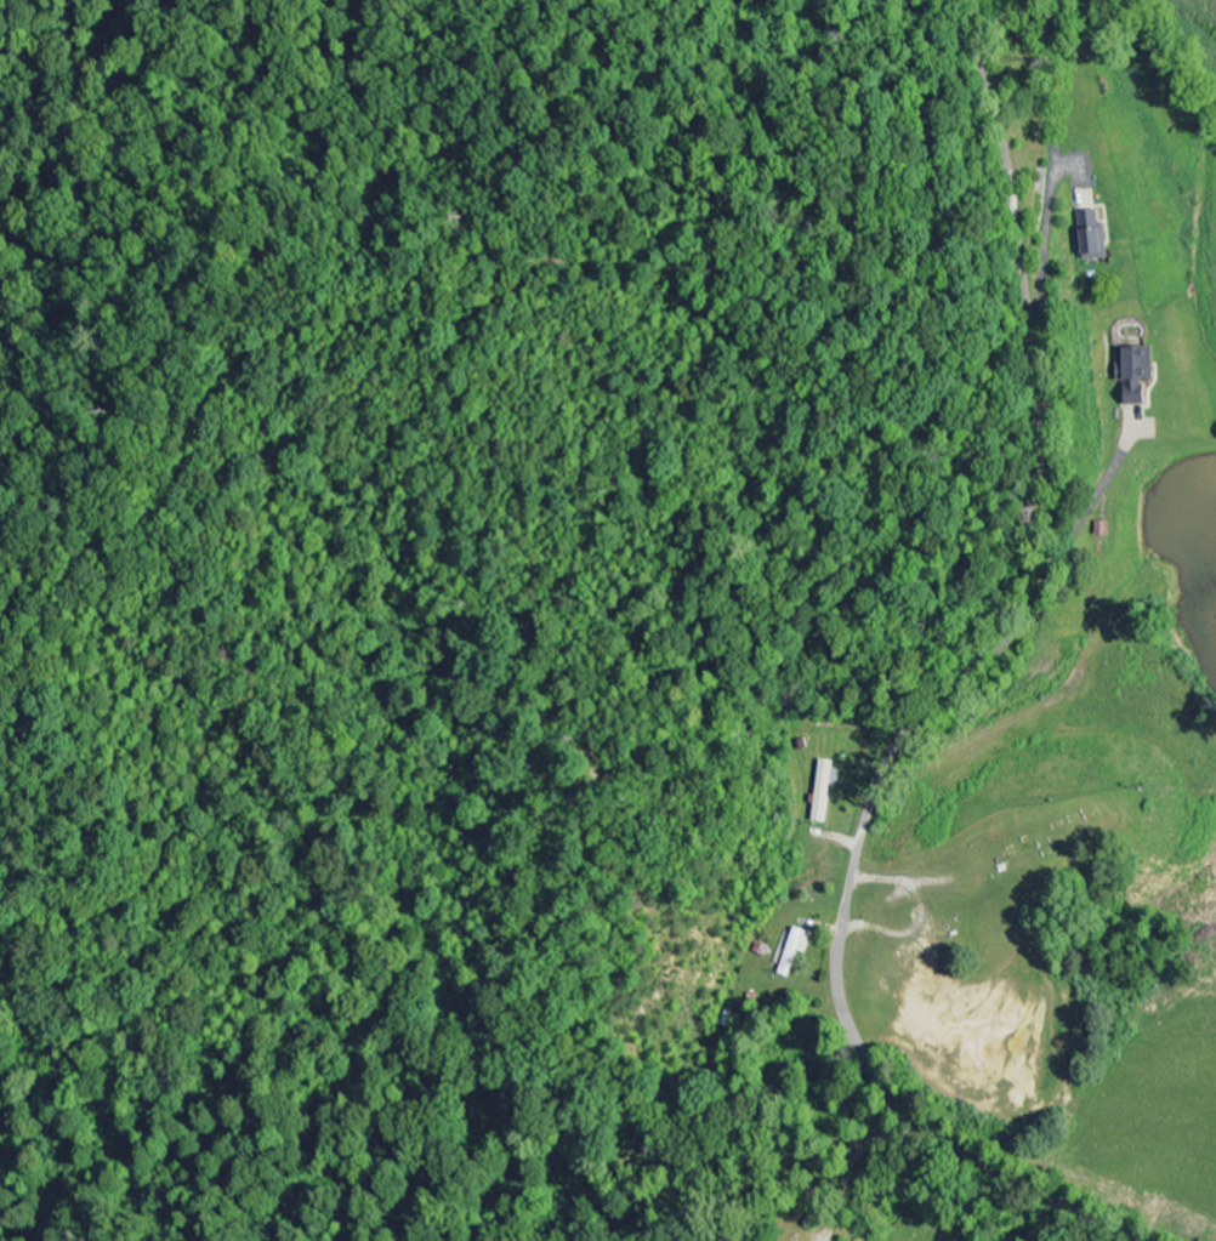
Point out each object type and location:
building: (1092, 237)
building: (1138, 375)
road: (947, 695)
building: (825, 790)
park: (1008, 869)
road: (1040, 896)
building: (796, 951)

